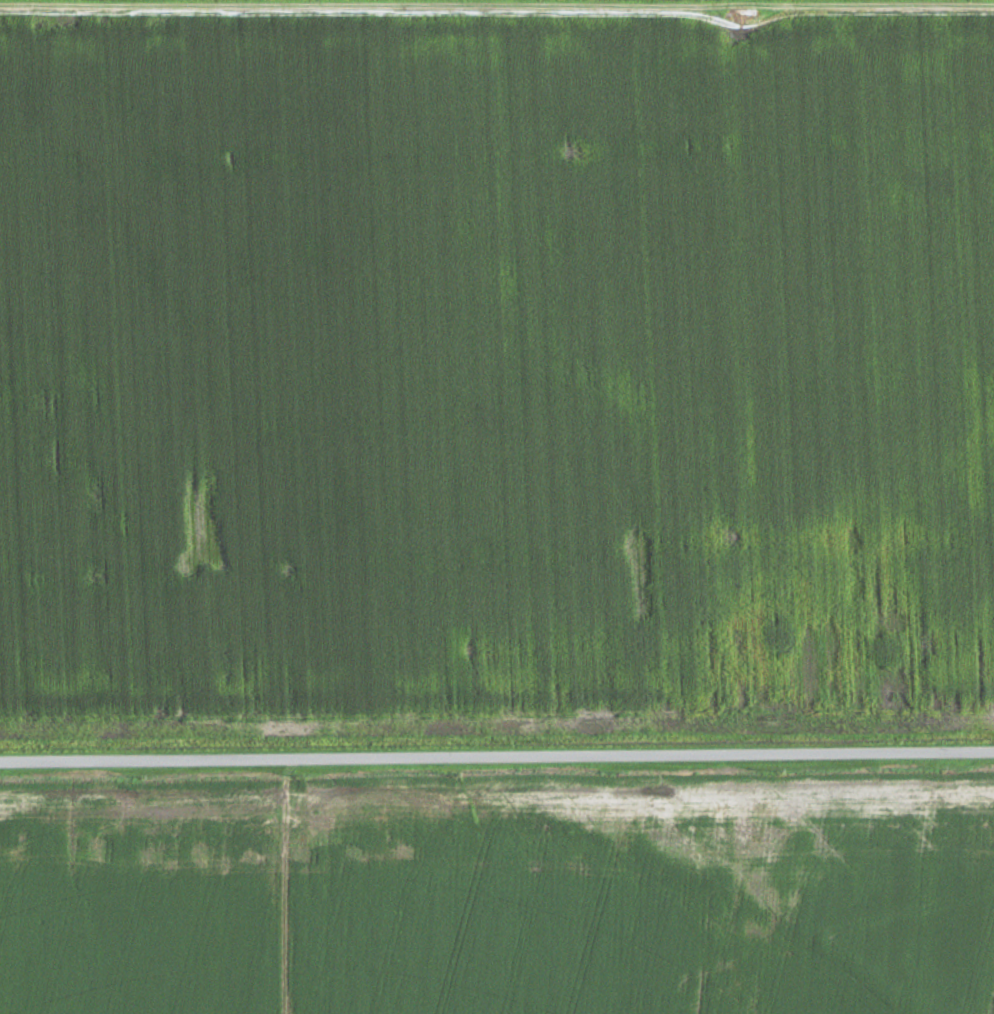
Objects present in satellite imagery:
road: (497, 756)

